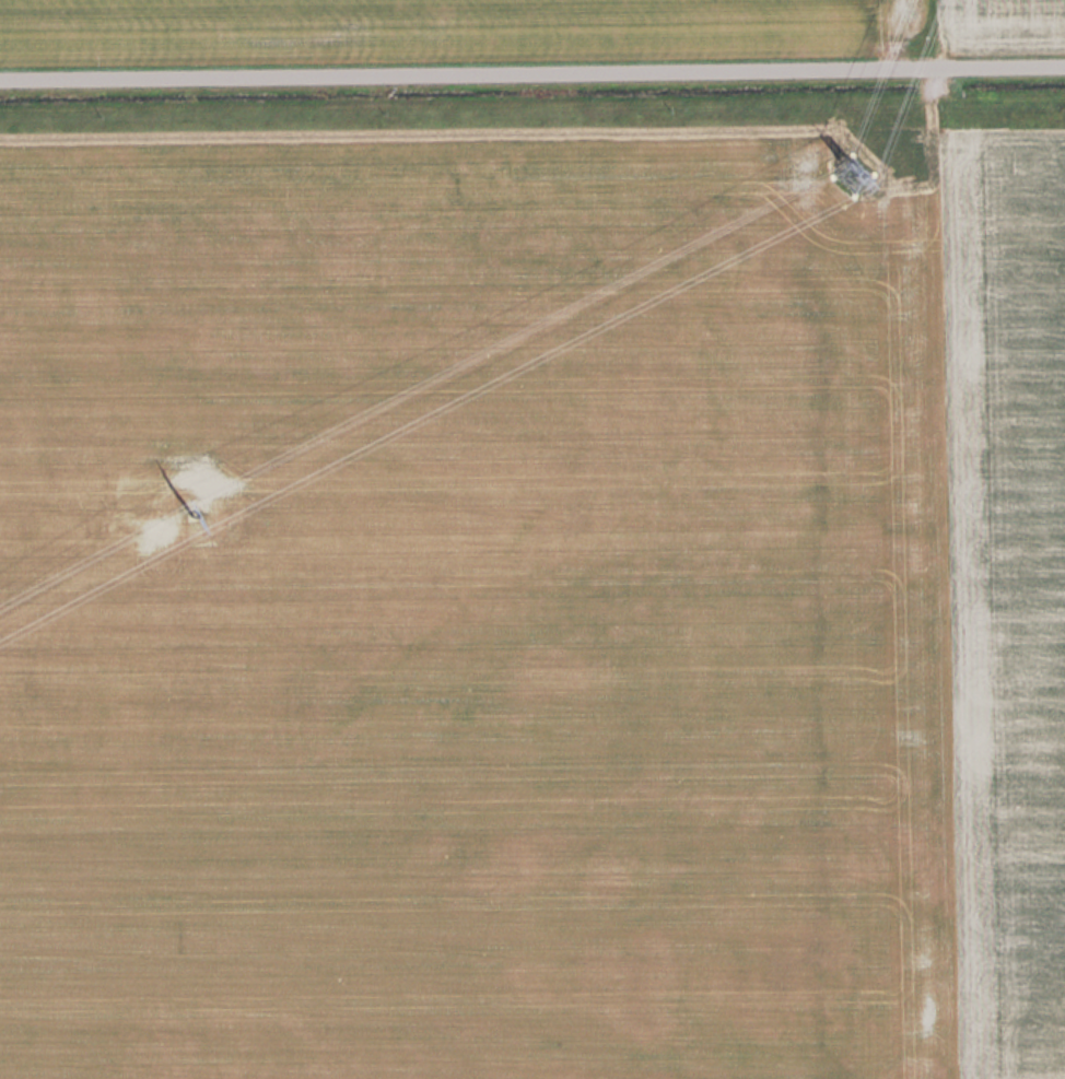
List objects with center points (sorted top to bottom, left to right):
road: (531, 70)
power tower: (844, 174)
power tower: (179, 506)

